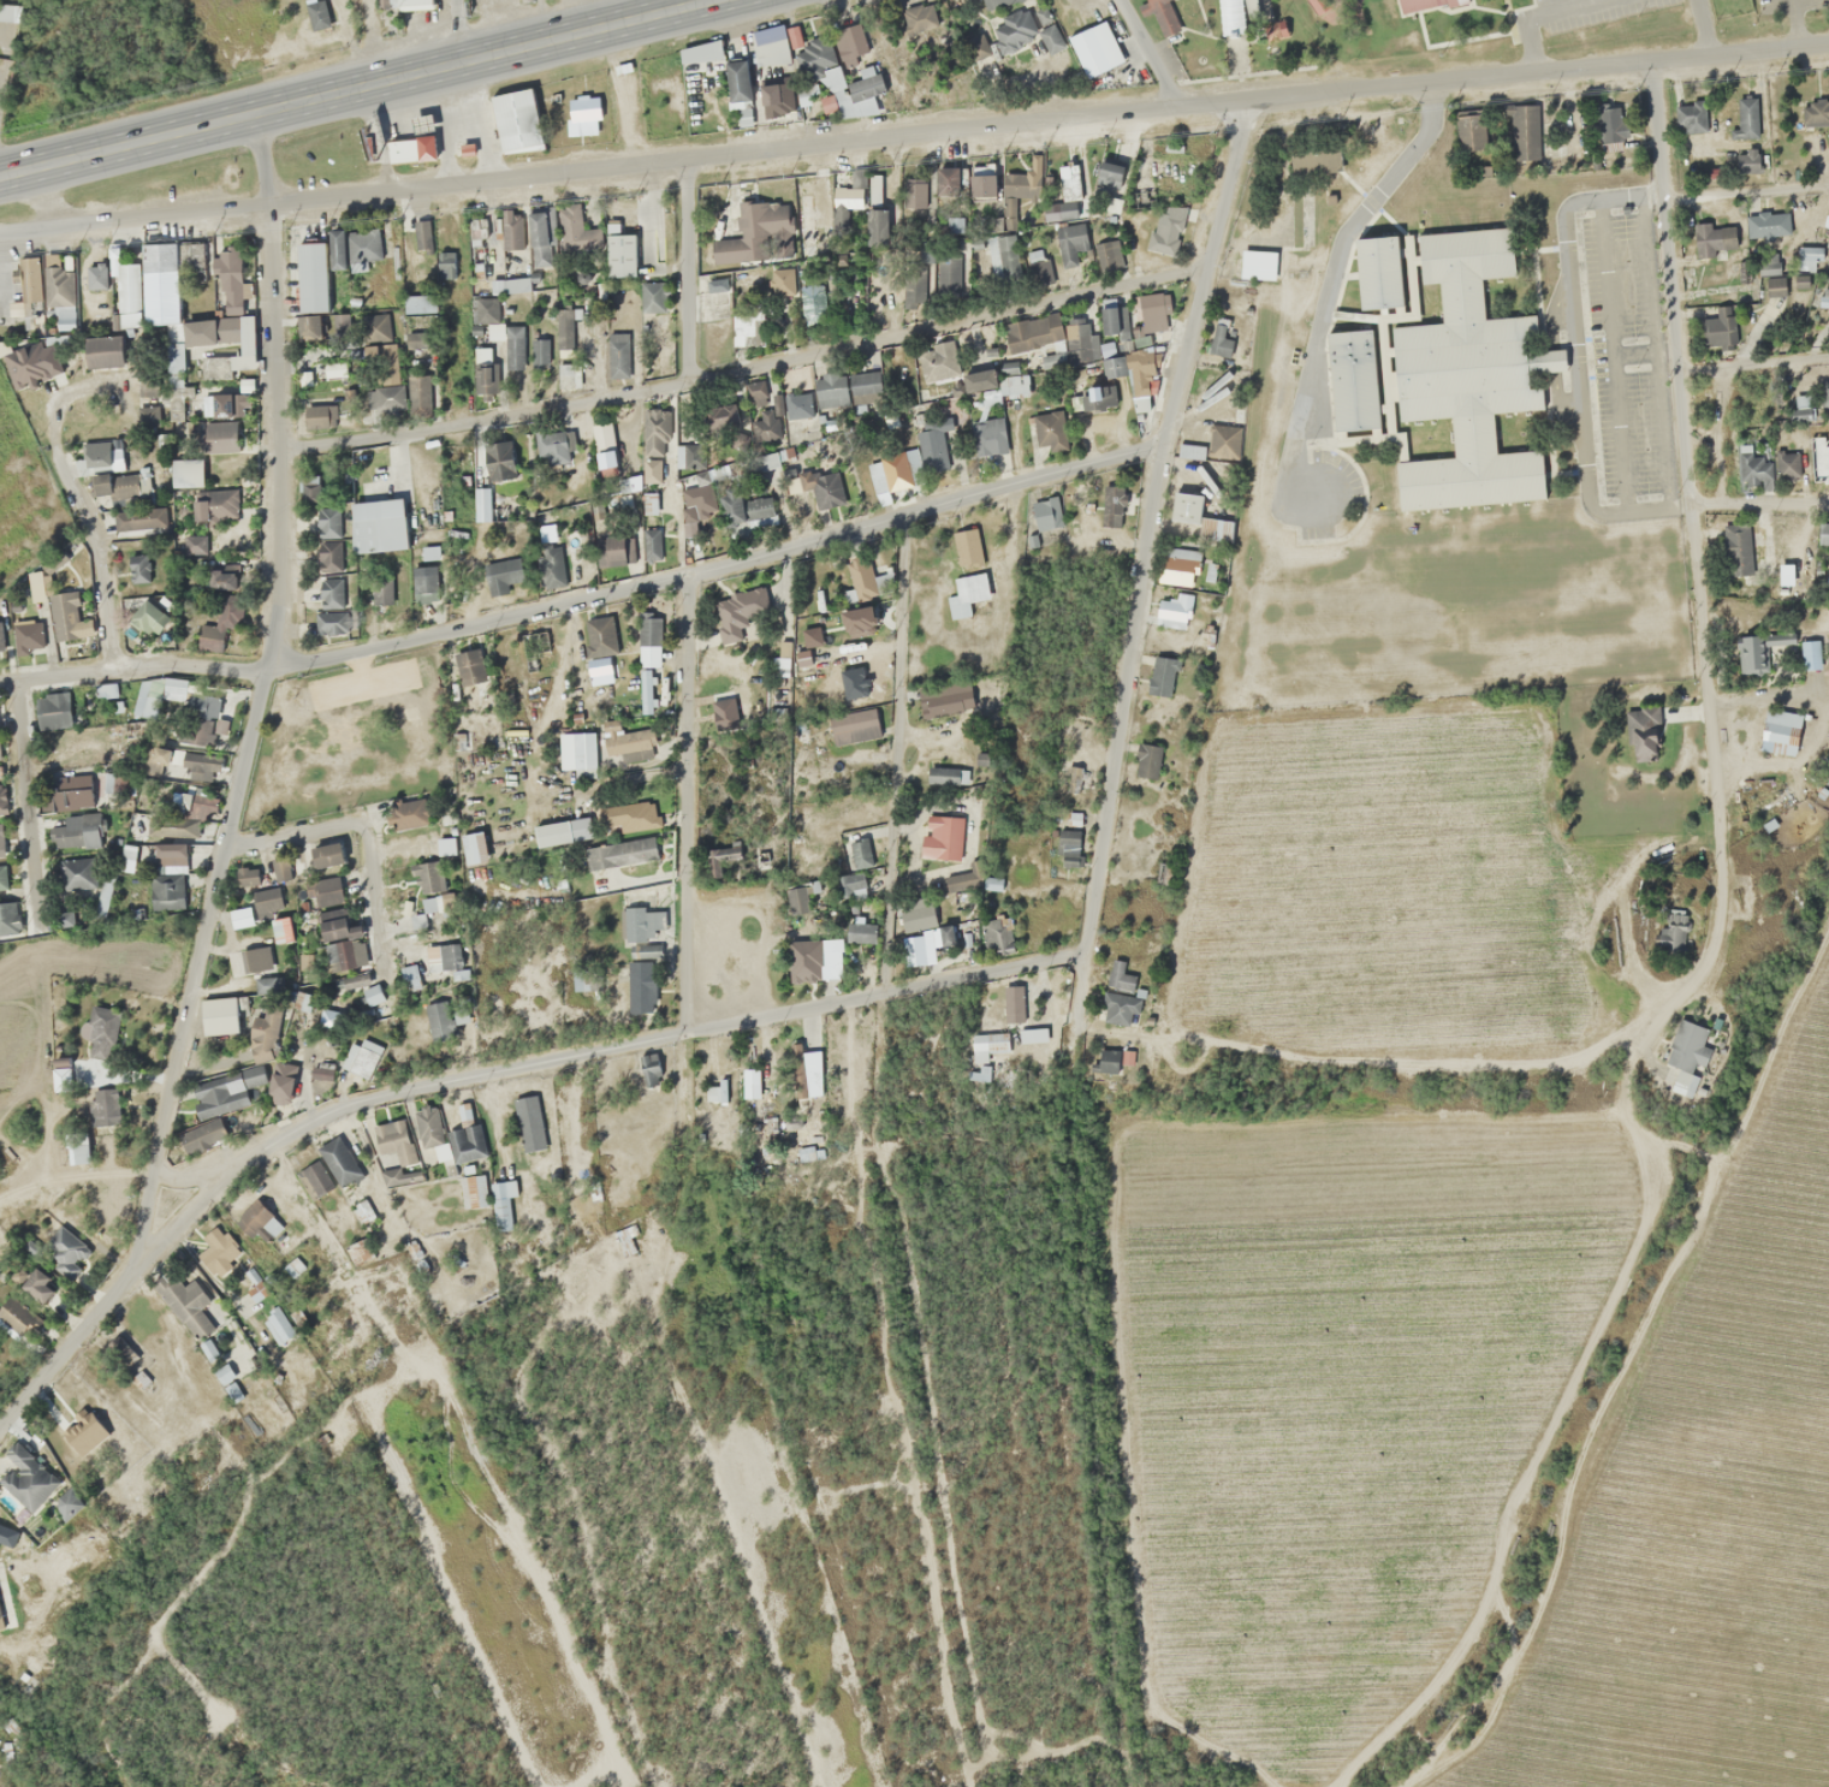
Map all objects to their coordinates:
building: (1310, 0)
building: (414, 4)
building: (1408, 4)
building: (1151, 8)
building: (316, 14)
building: (1230, 17)
building: (919, 18)
building: (1013, 29)
road: (452, 32)
building: (850, 41)
building: (771, 46)
building: (1094, 48)
building: (700, 52)
road: (1151, 52)
building: (810, 53)
building: (737, 82)
road: (355, 88)
building: (776, 99)
building: (582, 114)
building: (1691, 115)
building: (1745, 117)
building: (1812, 117)
building: (516, 120)
building: (1611, 127)
road: (1658, 129)
road: (916, 132)
building: (402, 149)
building: (1746, 160)
building: (1108, 177)
building: (946, 180)
building: (981, 180)
building: (1067, 191)
road: (1746, 191)
building: (848, 192)
building: (913, 192)
building: (875, 209)
building: (803, 219)
building: (1766, 224)
building: (1165, 231)
building: (747, 232)
building: (421, 234)
building: (1712, 238)
building: (483, 243)
building: (1071, 243)
building: (357, 247)
building: (619, 255)
building: (1807, 257)
road: (1329, 259)
building: (444, 260)
building: (961, 260)
building: (1768, 263)
building: (1368, 265)
building: (1038, 266)
road: (688, 271)
building: (95, 277)
building: (311, 277)
building: (228, 278)
building: (717, 283)
building: (147, 285)
building: (1774, 285)
building: (48, 291)
building: (1824, 297)
building: (418, 304)
building: (1150, 310)
building: (488, 315)
building: (1112, 316)
building: (309, 327)
building: (1717, 327)
building: (741, 328)
building: (213, 331)
building: (564, 333)
building: (1033, 333)
building: (1218, 336)
building: (1080, 338)
building: (513, 345)
building: (1106, 348)
building: (106, 351)
building: (539, 352)
building: (617, 356)
building: (247, 361)
building: (937, 361)
building: (380, 362)
road: (1753, 364)
building: (1460, 369)
road: (743, 370)
building: (1342, 374)
building: (320, 378)
building: (485, 379)
building: (998, 380)
building: (1133, 381)
building: (865, 386)
building: (831, 390)
building: (420, 392)
building: (754, 393)
building: (1824, 394)
building: (384, 397)
building: (1097, 398)
building: (227, 404)
building: (796, 405)
building: (1800, 405)
building: (720, 415)
building: (320, 416)
building: (764, 425)
building: (1047, 429)
building: (655, 432)
building: (219, 435)
building: (987, 435)
building: (933, 445)
building: (604, 449)
building: (1189, 451)
building: (679, 455)
building: (498, 459)
building: (765, 459)
building: (560, 461)
building: (1787, 465)
building: (1819, 465)
building: (1753, 467)
building: (634, 483)
building: (309, 489)
building: (123, 491)
building: (827, 493)
road: (1687, 499)
building: (696, 503)
building: (481, 504)
building: (649, 504)
building: (1111, 505)
road: (1758, 505)
building: (216, 509)
building: (1184, 509)
building: (746, 511)
road: (1142, 521)
building: (1045, 523)
building: (378, 526)
building: (1822, 534)
road: (94, 538)
building: (328, 538)
building: (651, 544)
building: (194, 545)
building: (1734, 550)
building: (939, 552)
building: (1178, 560)
building: (550, 565)
road: (714, 566)
building: (138, 568)
building: (500, 575)
building: (967, 575)
building: (224, 577)
building: (1827, 578)
building: (925, 580)
building: (423, 587)
building: (331, 593)
building: (1171, 610)
building: (738, 615)
building: (65, 616)
building: (150, 617)
building: (329, 622)
building: (220, 627)
building: (648, 634)
building: (599, 646)
building: (1750, 654)
building: (1809, 654)
road: (133, 667)
building: (469, 667)
building: (1160, 675)
building: (174, 688)
building: (646, 690)
road: (262, 694)
building: (146, 696)
building: (55, 708)
building: (854, 726)
building: (135, 729)
building: (197, 730)
building: (1778, 731)
building: (726, 735)
building: (629, 742)
road: (895, 753)
building: (1145, 760)
building: (182, 762)
building: (948, 774)
building: (109, 783)
building: (72, 791)
building: (1, 801)
road: (25, 801)
building: (186, 801)
road: (685, 803)
building: (614, 818)
building: (176, 826)
road: (355, 829)
building: (76, 831)
building: (562, 831)
building: (942, 837)
building: (1, 842)
building: (444, 845)
building: (473, 847)
building: (1068, 848)
building: (619, 851)
building: (170, 855)
building: (326, 857)
building: (127, 860)
building: (279, 866)
building: (1, 869)
building: (77, 874)
building: (247, 875)
building: (430, 886)
building: (850, 886)
building: (166, 892)
building: (103, 897)
building: (916, 914)
building: (240, 916)
building: (8, 919)
building: (332, 922)
building: (639, 924)
building: (281, 930)
building: (859, 931)
building: (1668, 938)
building: (913, 950)
building: (443, 956)
building: (257, 958)
building: (804, 960)
building: (577, 979)
building: (1118, 979)
building: (266, 985)
building: (639, 986)
road: (1077, 986)
building: (374, 999)
building: (302, 1003)
building: (1011, 1003)
building: (1117, 1009)
building: (439, 1014)
building: (224, 1015)
building: (100, 1031)
building: (1032, 1034)
building: (265, 1035)
building: (987, 1047)
road: (578, 1055)
building: (1686, 1055)
building: (362, 1057)
building: (1106, 1061)
building: (648, 1068)
building: (61, 1074)
building: (250, 1076)
building: (723, 1086)
building: (280, 1090)
building: (216, 1097)
building: (103, 1106)
building: (528, 1122)
building: (428, 1127)
building: (465, 1135)
building: (394, 1140)
building: (79, 1146)
building: (338, 1160)
building: (313, 1181)
building: (473, 1191)
building: (501, 1204)
building: (362, 1211)
building: (256, 1215)
building: (64, 1251)
building: (356, 1251)
building: (40, 1286)
building: (278, 1325)
road: (63, 1346)
building: (230, 1371)
building: (26, 1477)
road: (1134, 1560)

